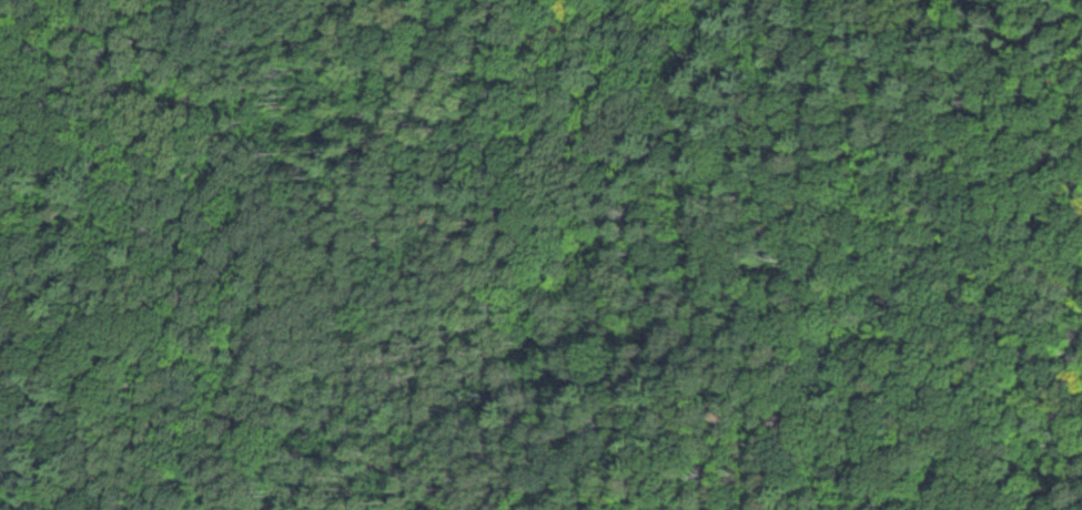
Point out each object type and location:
road: (385, 274)
road: (24, 502)

